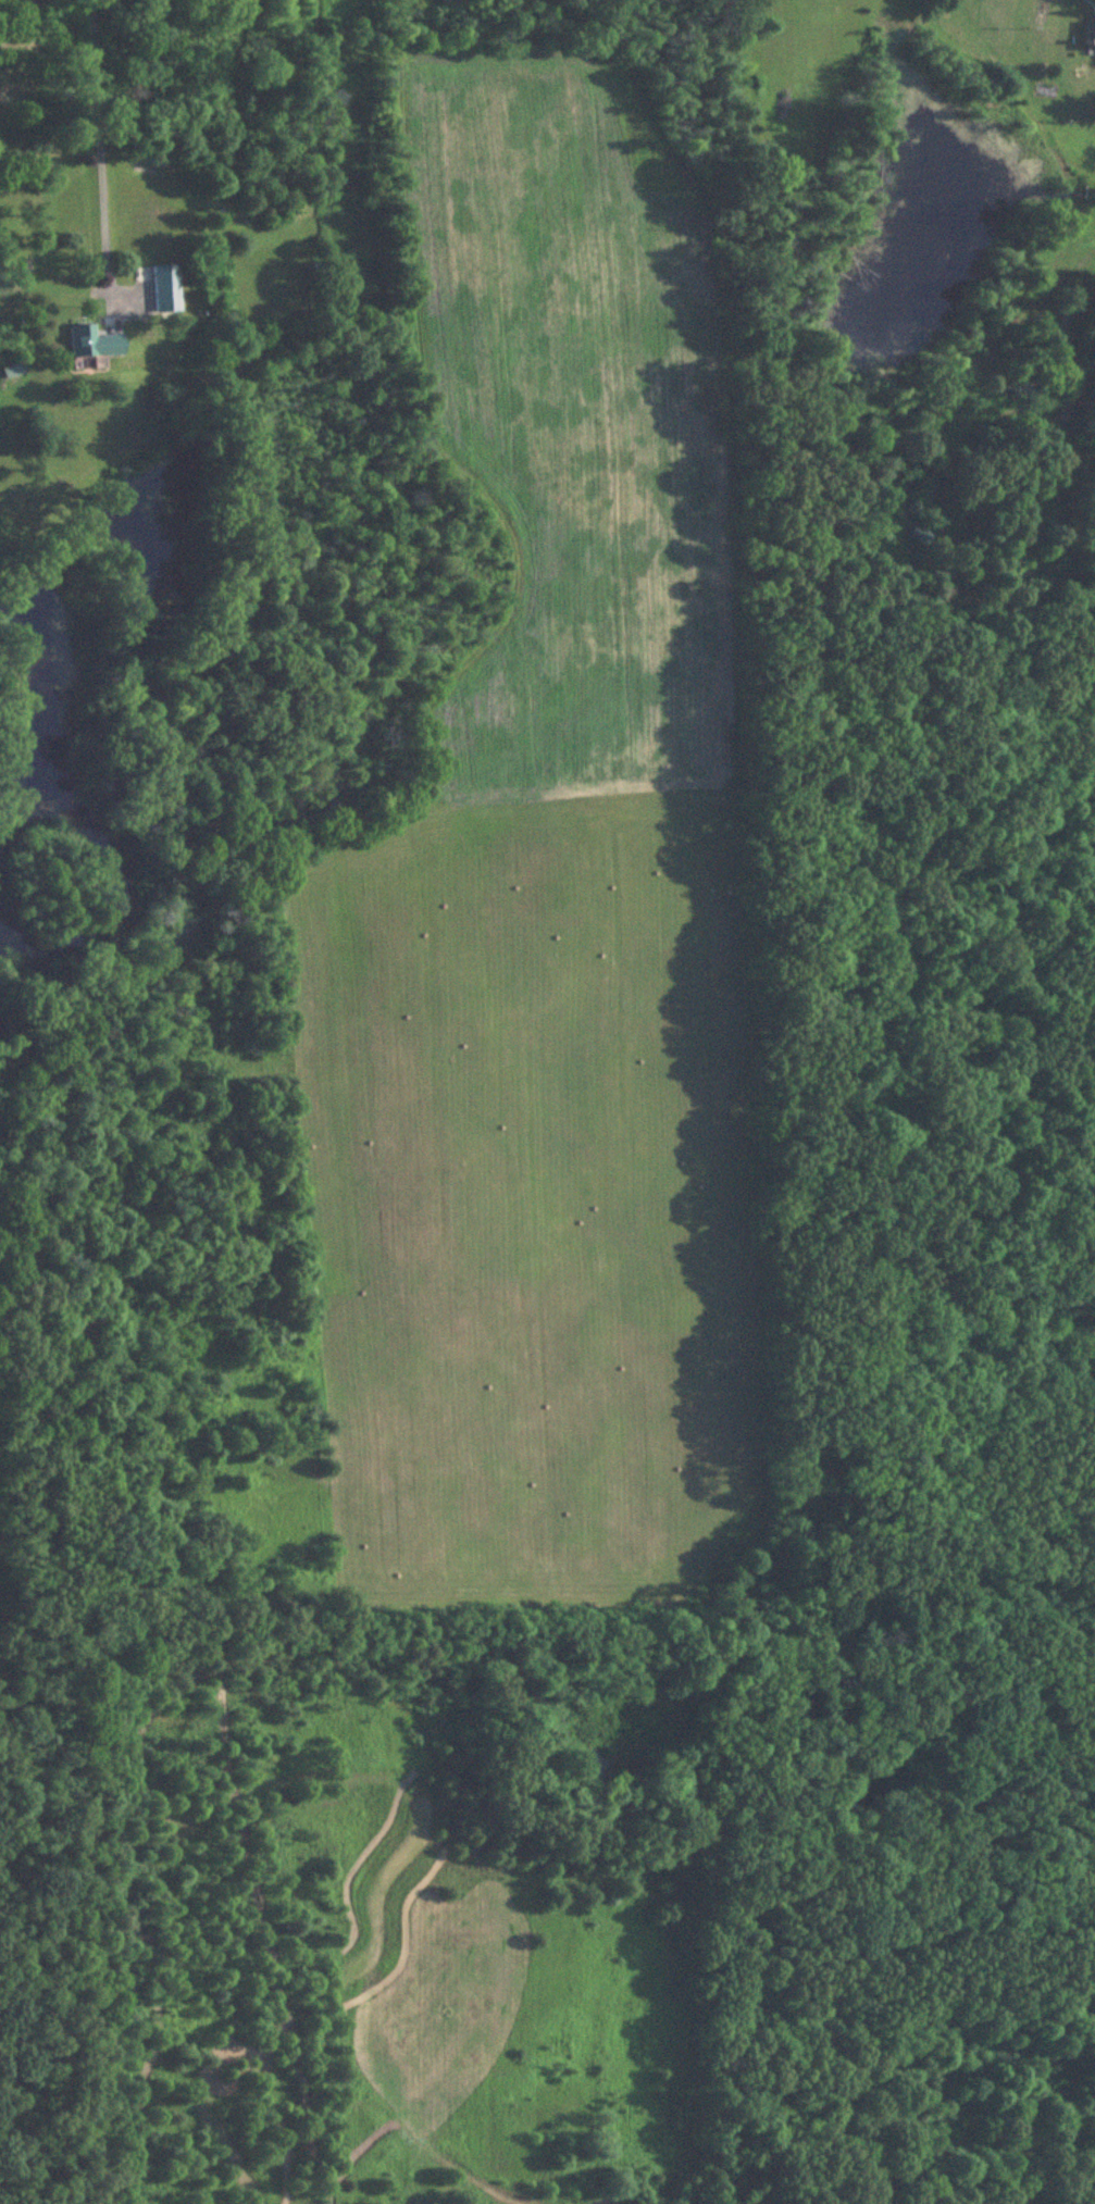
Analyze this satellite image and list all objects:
building: (1090, 38)
road: (102, 148)
building: (164, 289)
building: (95, 344)

